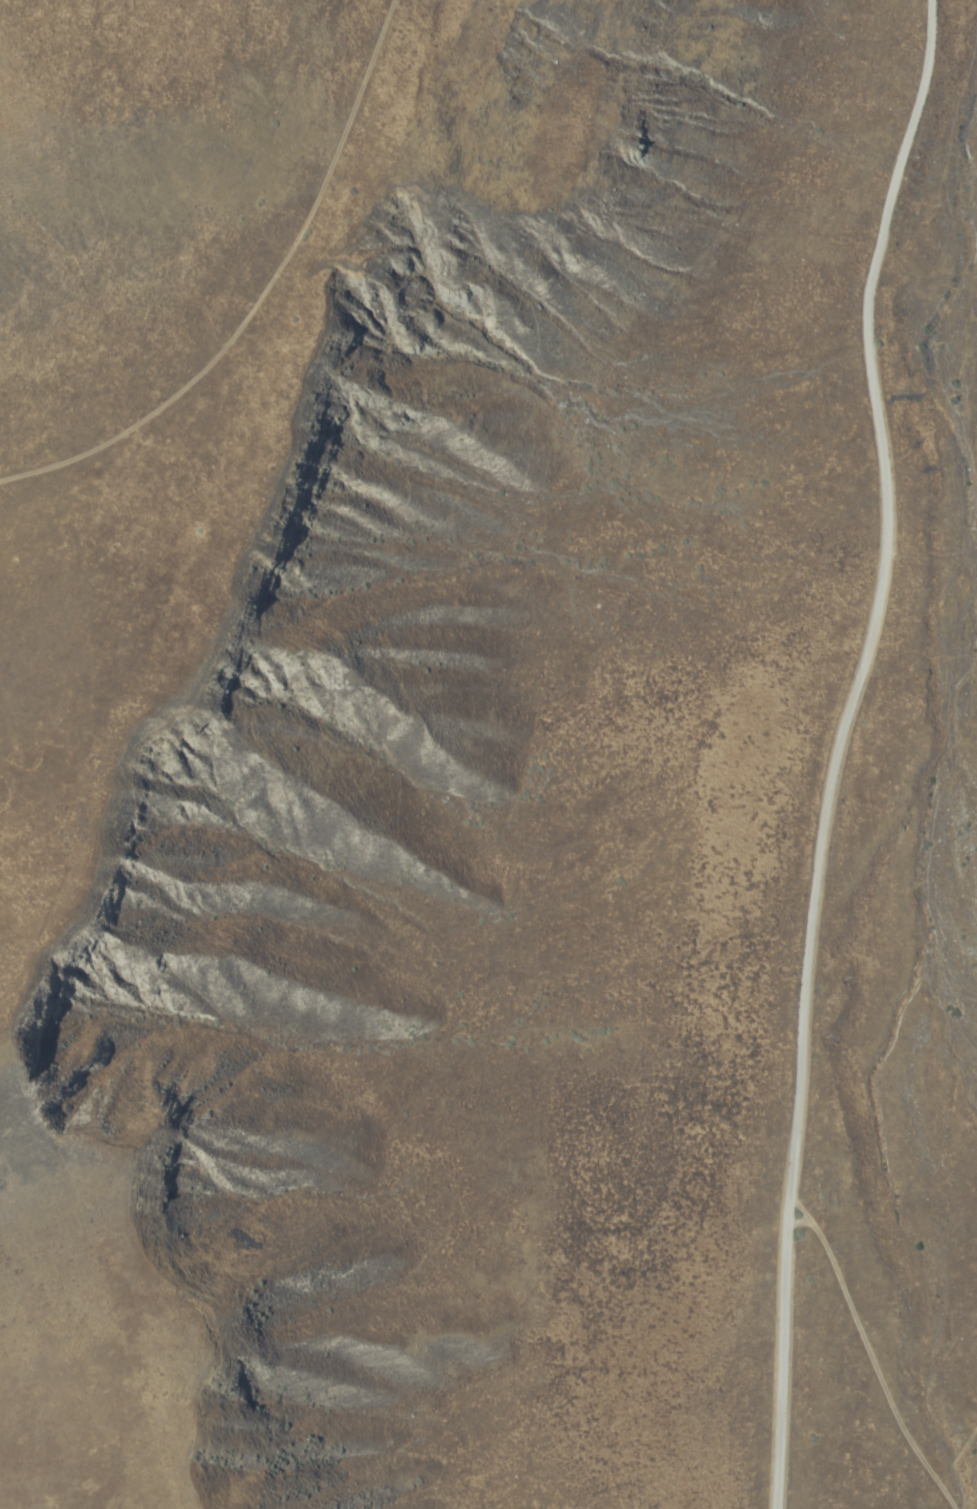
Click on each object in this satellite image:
road: (839, 749)

